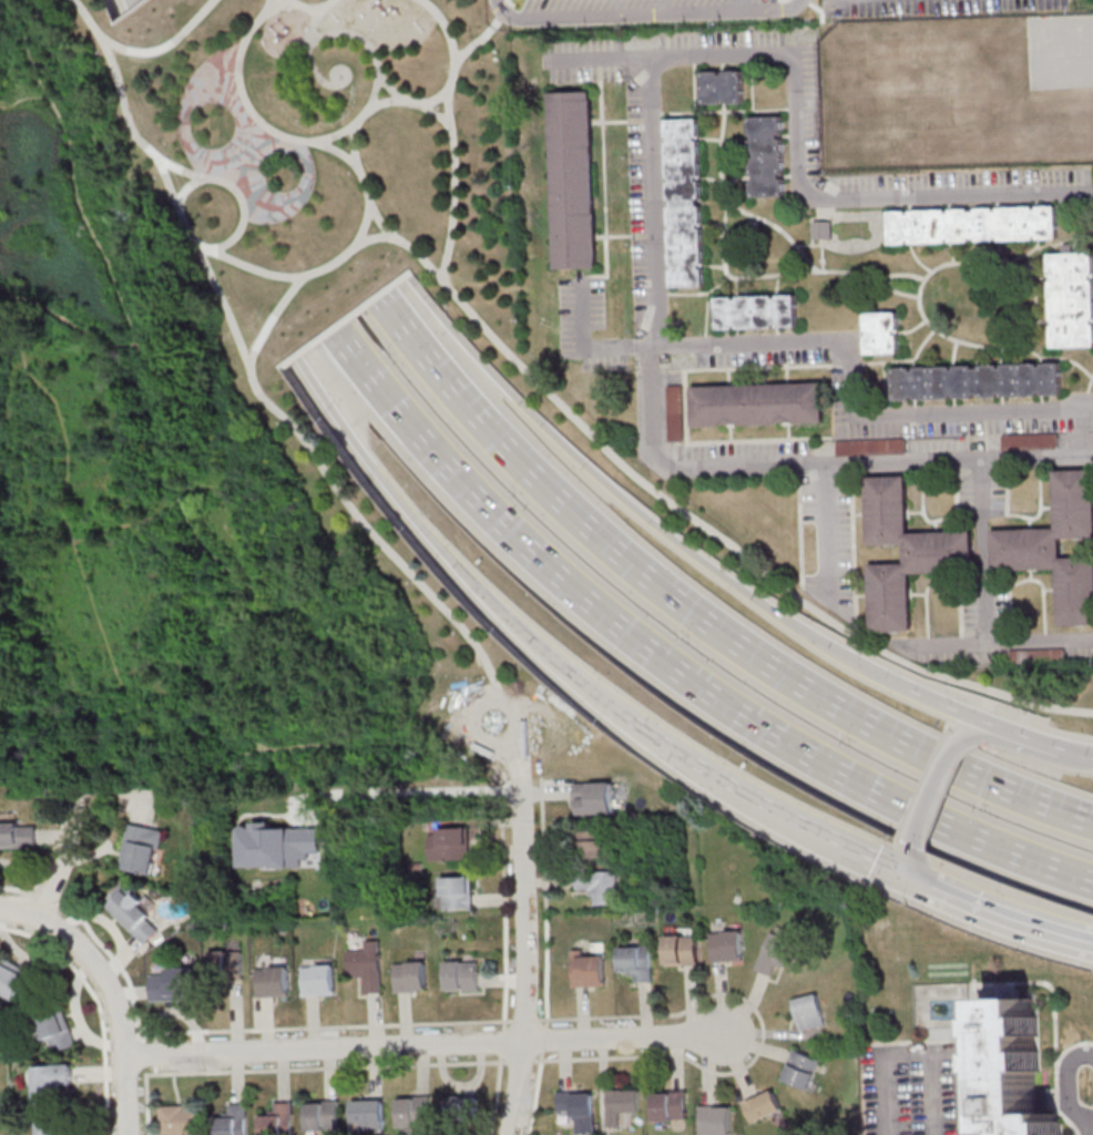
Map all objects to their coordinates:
road: (143, 0)
road: (806, 1)
road: (509, 2)
road: (122, 6)
road: (300, 7)
road: (819, 8)
road: (644, 12)
road: (309, 32)
road: (484, 33)
road: (159, 51)
road: (790, 55)
road: (602, 60)
building: (926, 60)
road: (343, 65)
road: (377, 74)
road: (328, 83)
building: (721, 85)
park: (956, 91)
road: (407, 100)
road: (384, 101)
road: (791, 108)
road: (435, 111)
road: (724, 111)
road: (655, 113)
road: (336, 134)
road: (451, 135)
road: (239, 151)
building: (765, 154)
road: (358, 167)
building: (571, 177)
road: (185, 191)
road: (241, 195)
building: (684, 202)
road: (380, 223)
building: (971, 224)
road: (777, 227)
building: (821, 229)
road: (1036, 244)
road: (256, 268)
road: (739, 277)
road: (662, 293)
road: (688, 293)
road: (918, 298)
building: (1071, 298)
road: (707, 300)
building: (755, 310)
road: (124, 311)
road: (68, 325)
road: (194, 330)
building: (880, 331)
road: (705, 341)
road: (150, 346)
road: (586, 349)
road: (708, 368)
building: (975, 380)
road: (253, 381)
road: (1085, 391)
building: (756, 402)
road: (848, 407)
park: (229, 412)
road: (654, 416)
building: (675, 420)
building: (1030, 440)
building: (871, 446)
road: (1039, 461)
road: (885, 463)
road: (980, 471)
road: (824, 472)
road: (852, 473)
road: (197, 490)
road: (1005, 492)
road: (188, 497)
road: (248, 497)
road: (1040, 505)
road: (923, 511)
road: (636, 514)
road: (693, 521)
road: (130, 524)
road: (799, 531)
road: (829, 535)
building: (1056, 544)
road: (75, 546)
road: (431, 546)
building: (905, 551)
road: (983, 551)
road: (693, 618)
road: (268, 622)
road: (1001, 642)
building: (1036, 656)
road: (665, 669)
road: (963, 713)
road: (1068, 732)
road: (245, 738)
road: (177, 739)
road: (1051, 744)
road: (340, 745)
road: (1024, 750)
road: (735, 787)
road: (928, 789)
road: (133, 791)
road: (406, 794)
building: (594, 797)
building: (18, 835)
building: (592, 841)
building: (450, 842)
building: (142, 849)
road: (63, 859)
road: (911, 863)
road: (895, 870)
traffic signals: (918, 881)
building: (601, 886)
road: (927, 886)
building: (458, 892)
road: (19, 913)
building: (135, 913)
road: (1008, 918)
road: (527, 924)
road: (1087, 942)
building: (726, 945)
building: (682, 949)
building: (777, 953)
building: (635, 961)
building: (368, 965)
building: (590, 969)
building: (226, 970)
building: (462, 975)
building: (411, 976)
building: (13, 979)
building: (319, 979)
building: (274, 981)
building: (174, 983)
road: (118, 1010)
building: (809, 1011)
road: (546, 1022)
road: (503, 1024)
building: (57, 1027)
road: (543, 1039)
road: (502, 1041)
road: (421, 1047)
road: (926, 1052)
road: (541, 1056)
building: (801, 1070)
building: (1017, 1071)
road: (724, 1072)
building: (51, 1083)
road: (1069, 1092)
road: (497, 1095)
building: (622, 1104)
building: (670, 1105)
building: (764, 1105)
building: (461, 1106)
building: (579, 1110)
building: (415, 1111)
building: (369, 1115)
building: (324, 1116)
building: (181, 1119)
building: (279, 1119)
building: (716, 1119)
building: (234, 1121)
road: (109, 1124)
building: (55, 1127)
road: (1091, 1128)

